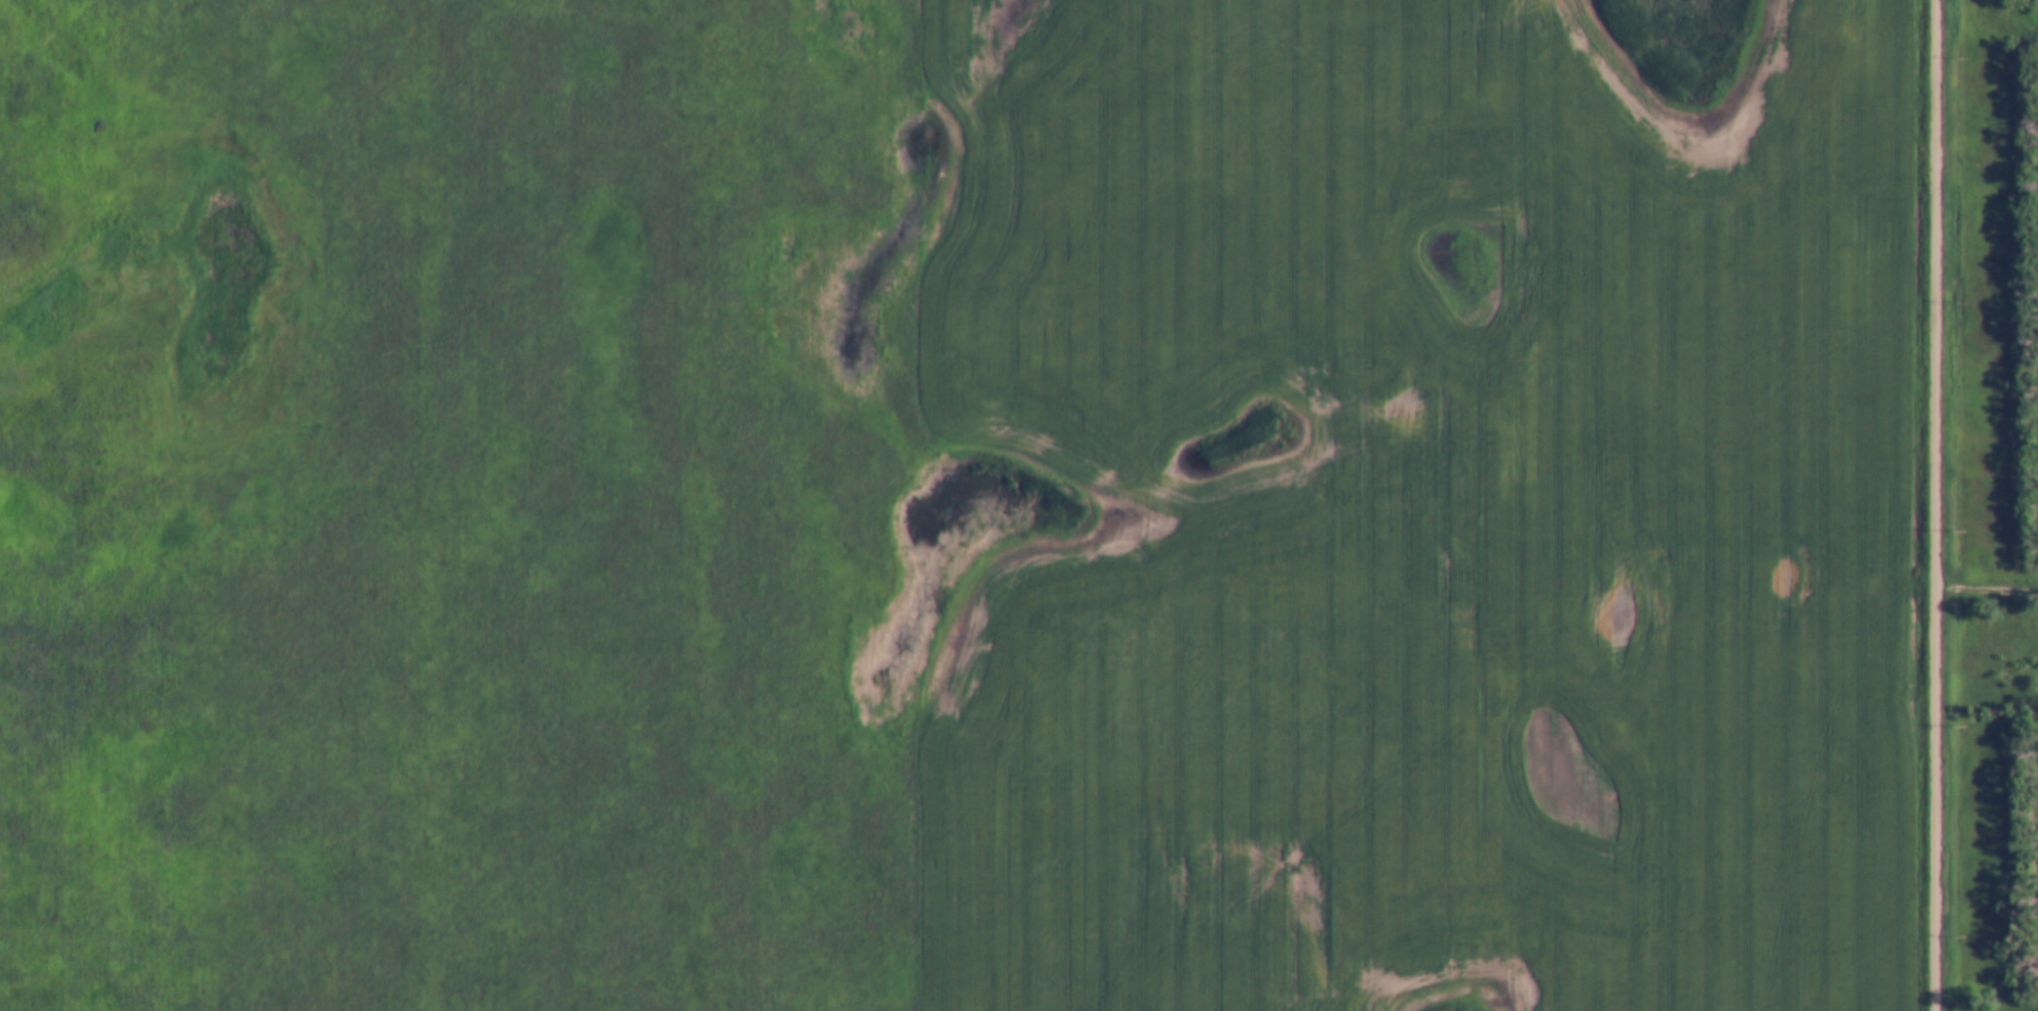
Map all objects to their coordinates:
road: (1936, 505)
road: (1987, 590)

